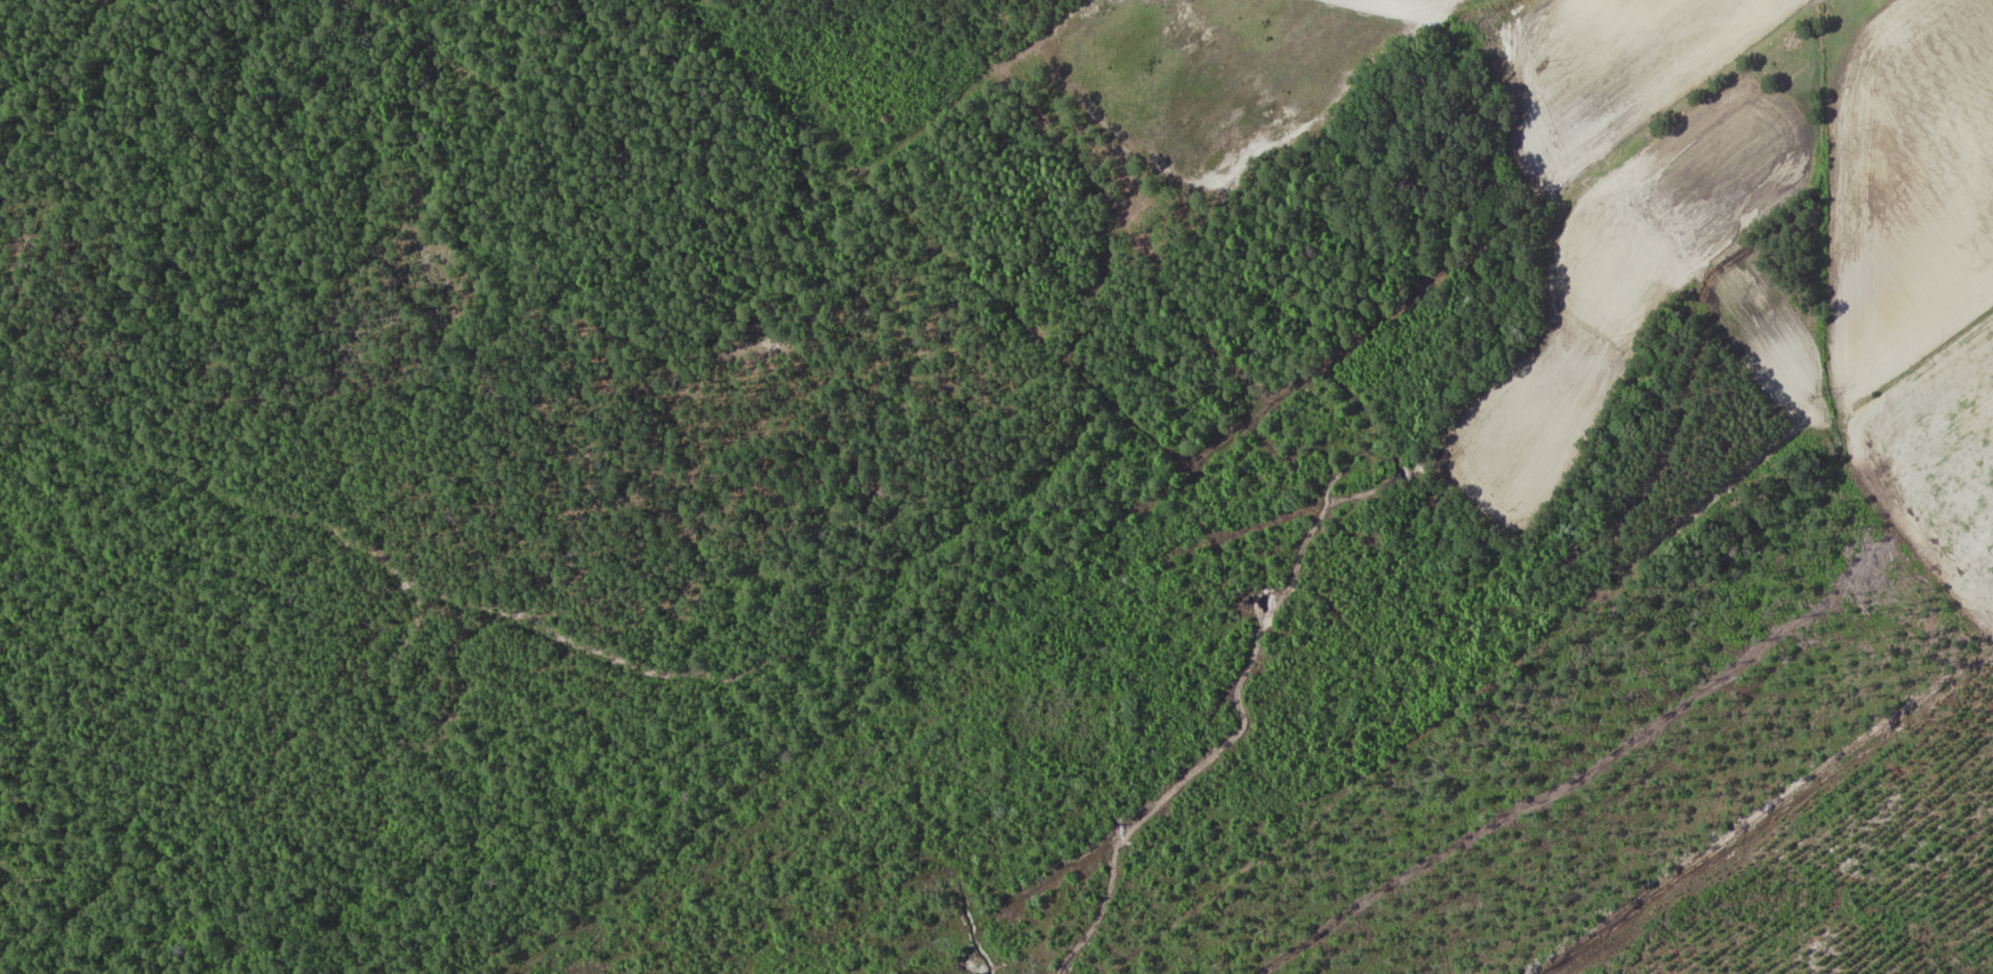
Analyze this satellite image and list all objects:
power tower: (1542, 66)
power tower: (1812, 391)

